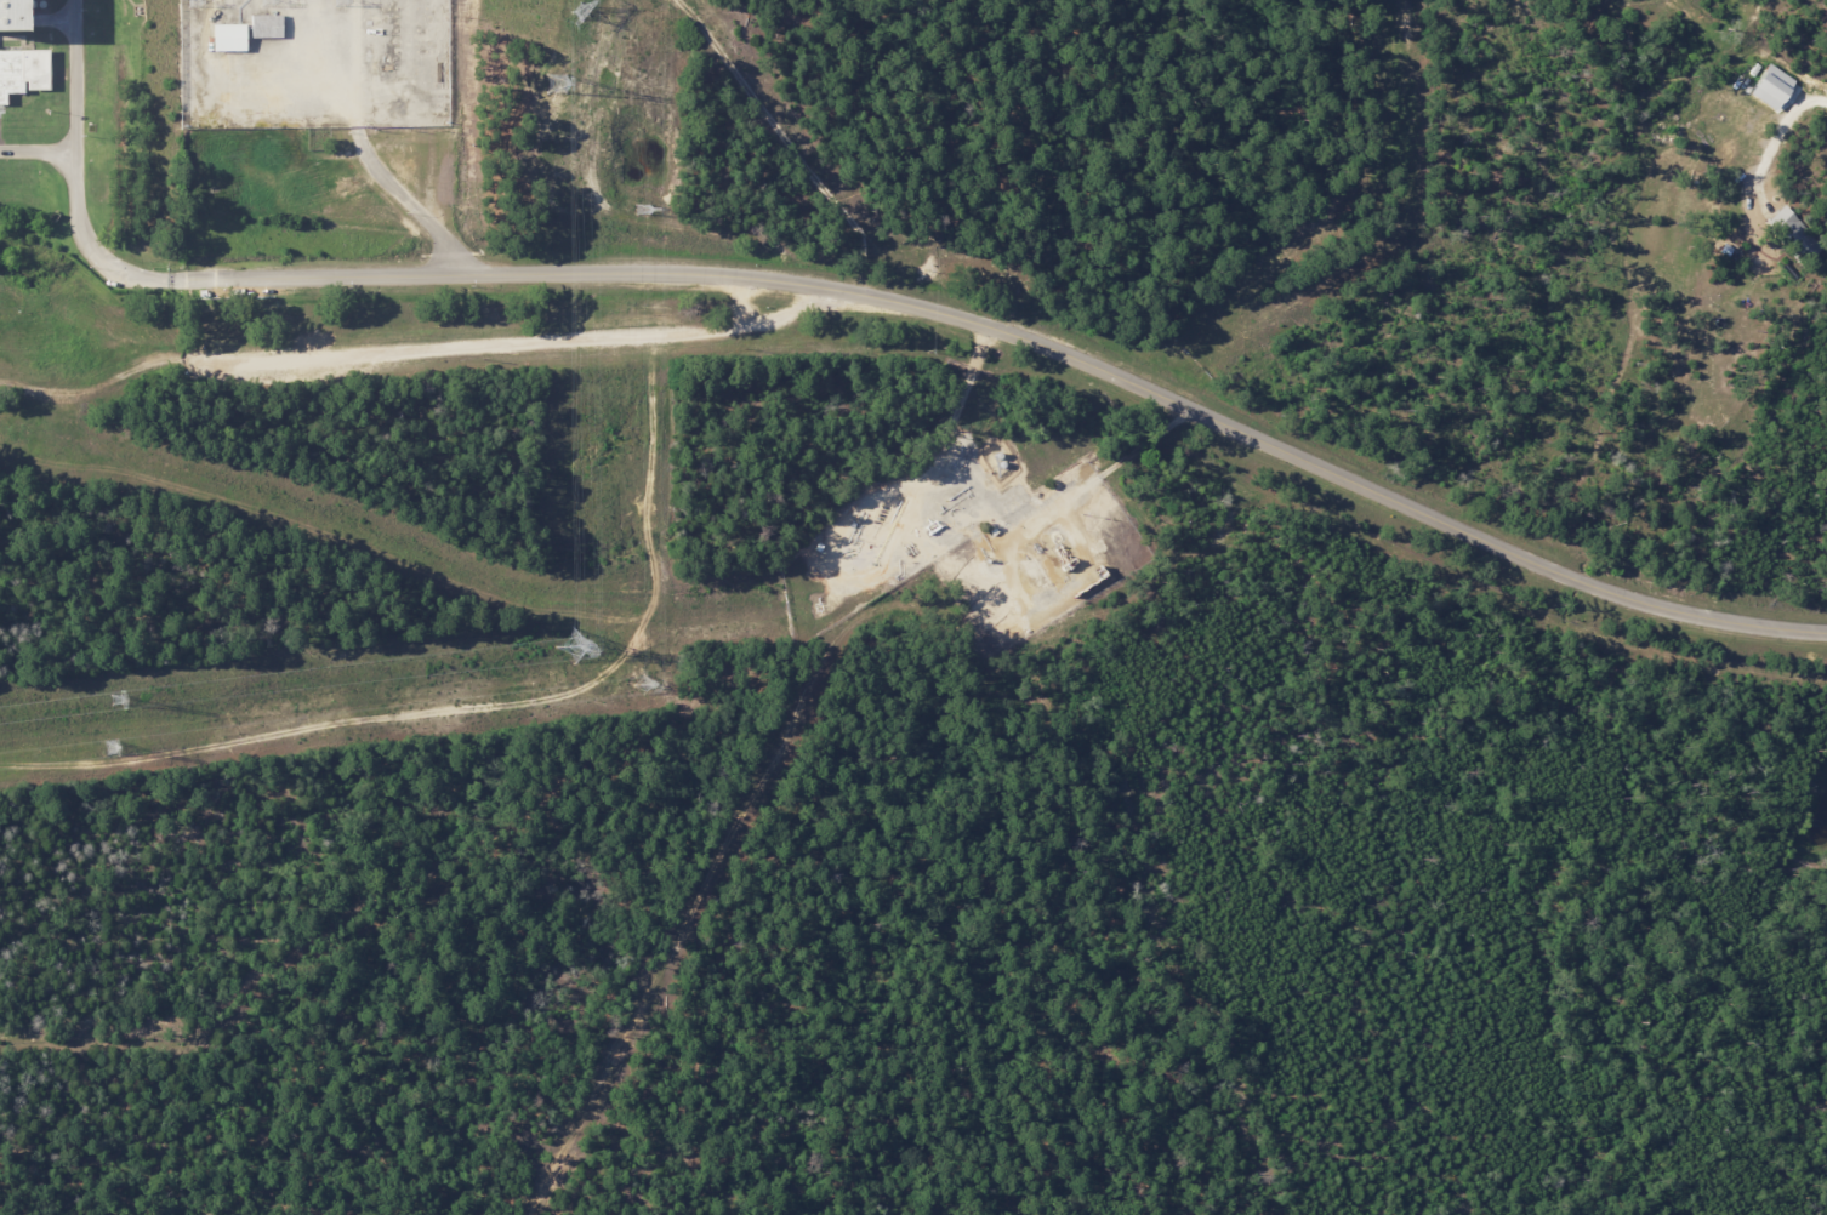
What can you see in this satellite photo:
power tower: (193, 2)
power tower: (267, 4)
power tower: (582, 12)
building: (230, 36)
power substation: (314, 64)
building: (23, 72)
power tower: (556, 84)
power plant: (27, 114)
road: (35, 156)
road: (72, 175)
road: (411, 206)
power tower: (643, 210)
road: (1028, 342)
road: (425, 349)
road: (1000, 509)
power tower: (574, 645)
power tower: (644, 685)
power tower: (115, 703)
power tower: (109, 749)

